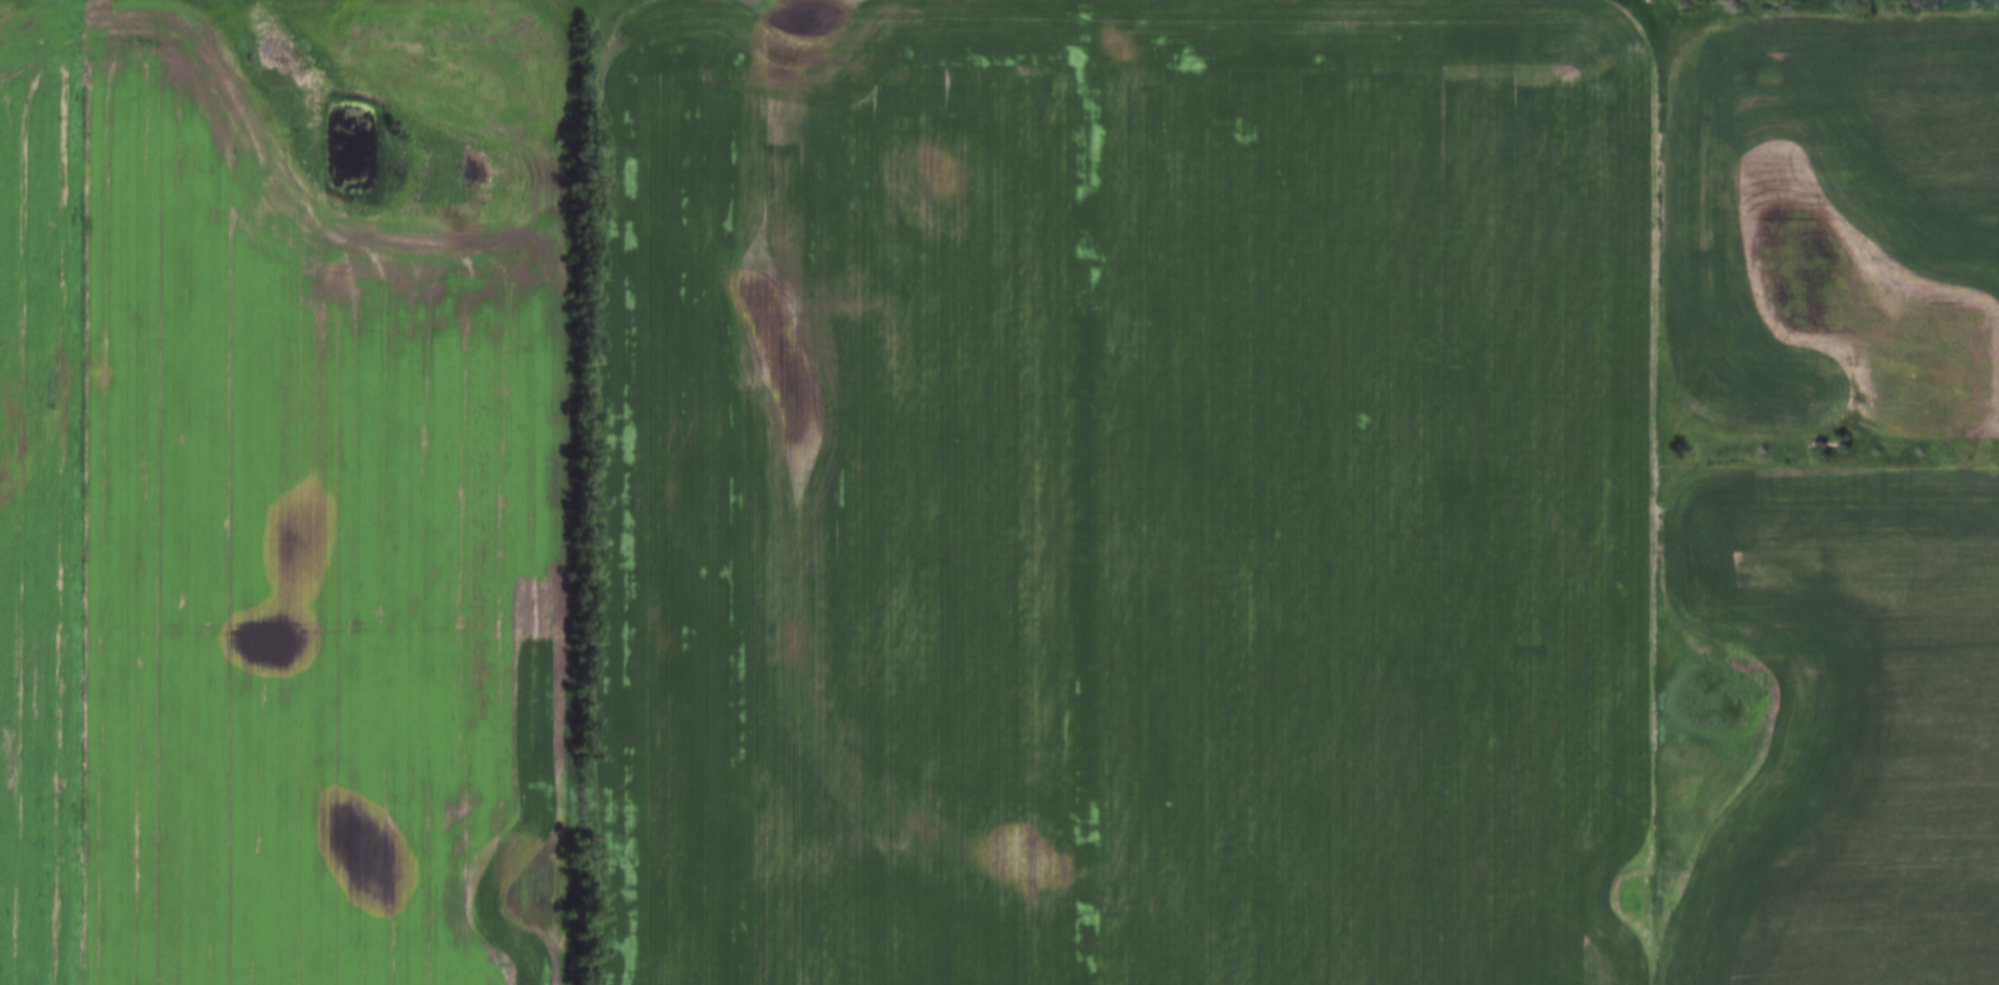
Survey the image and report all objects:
road: (1648, 492)

